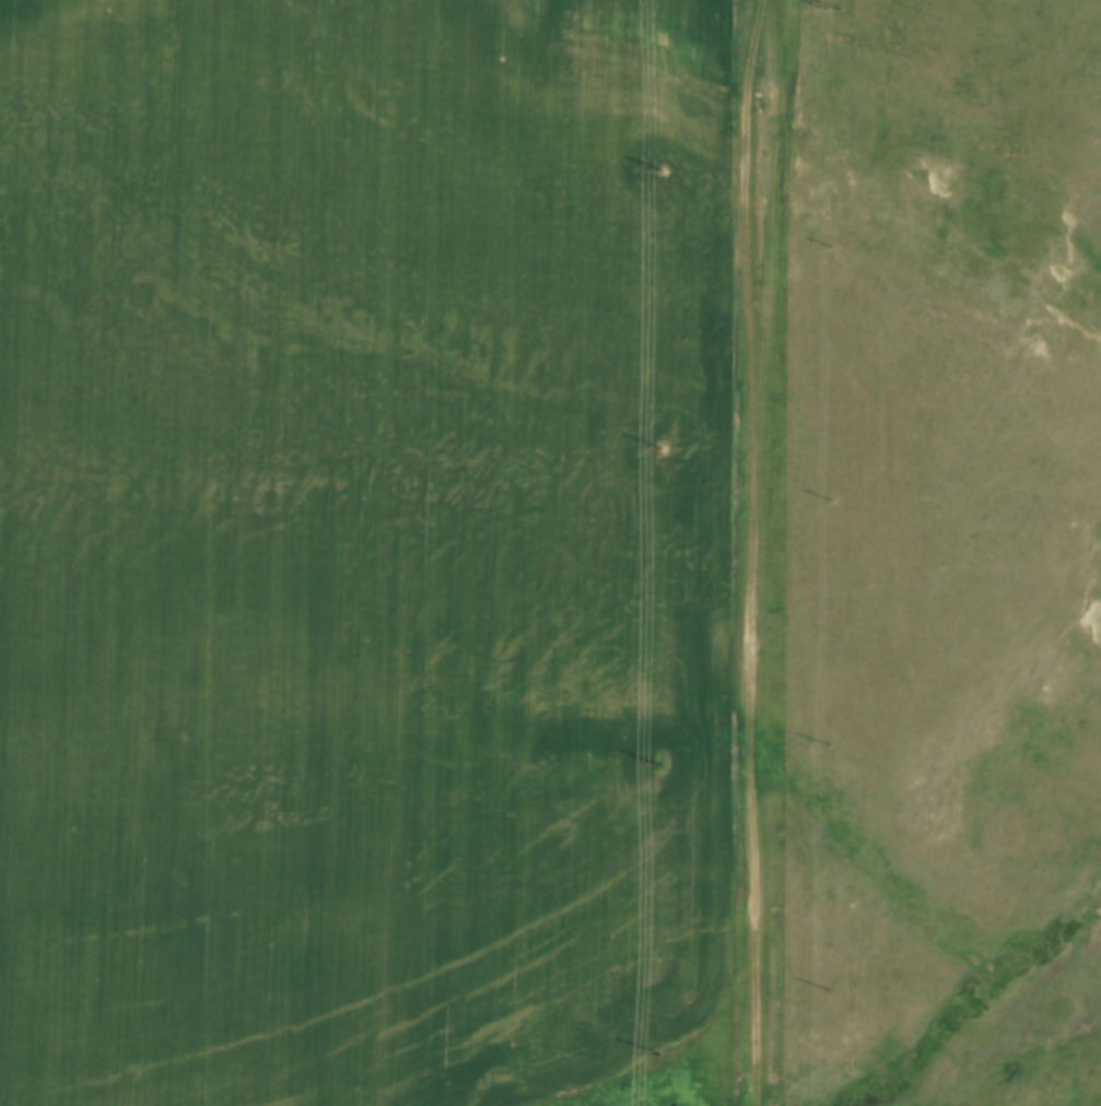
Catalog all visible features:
road: (757, 552)

